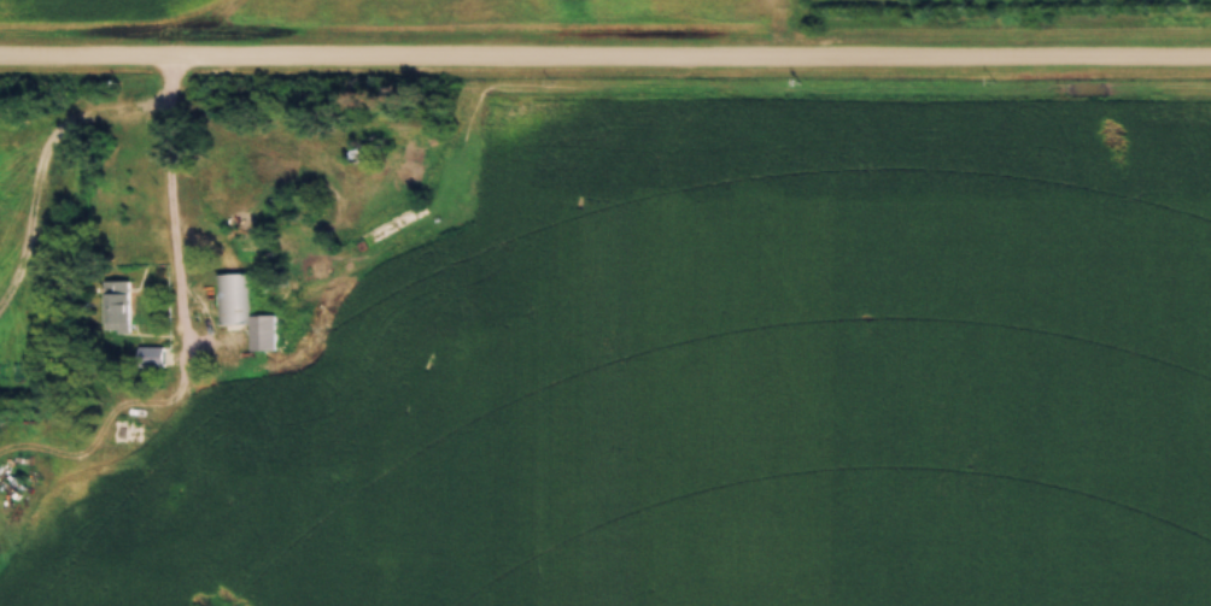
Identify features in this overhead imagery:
road: (605, 63)
road: (172, 177)
building: (232, 299)
building: (117, 306)
building: (262, 334)
building: (150, 358)
building: (124, 434)

